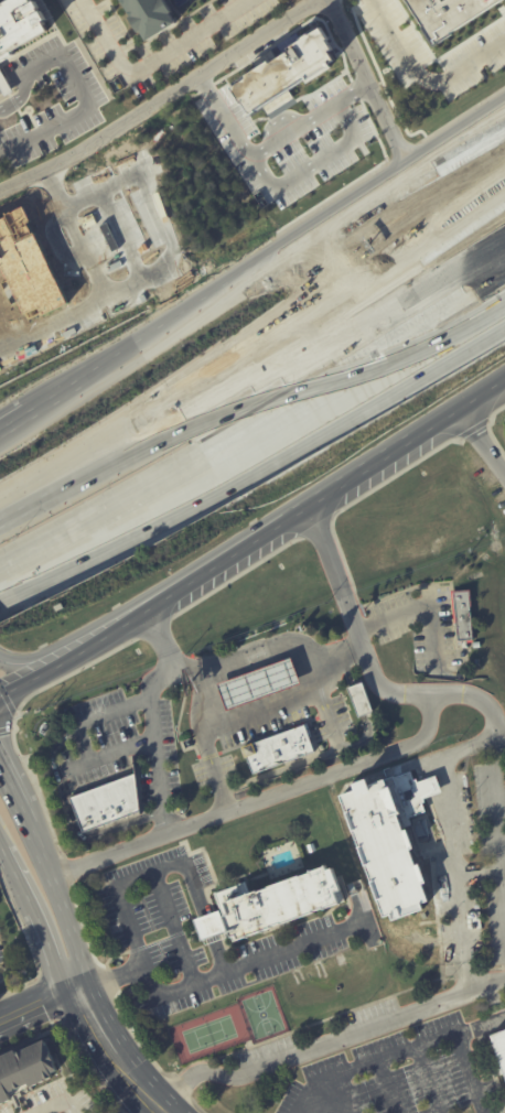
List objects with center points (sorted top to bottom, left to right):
building: (151, 17)
building: (458, 17)
building: (19, 26)
road: (153, 61)
building: (293, 73)
road: (15, 78)
road: (367, 82)
road: (419, 83)
building: (3, 84)
road: (78, 84)
road: (4, 85)
road: (0, 87)
road: (161, 100)
road: (221, 119)
road: (408, 160)
road: (136, 172)
road: (410, 177)
road: (284, 181)
road: (117, 225)
road: (441, 226)
road: (85, 250)
road: (72, 311)
road: (172, 317)
road: (307, 355)
road: (238, 363)
road: (313, 381)
road: (482, 395)
railway: (259, 408)
road: (314, 408)
road: (14, 418)
road: (482, 444)
road: (50, 487)
road: (271, 531)
road: (62, 533)
road: (416, 606)
building: (465, 614)
road: (270, 649)
road: (165, 653)
road: (41, 656)
building: (477, 661)
road: (42, 671)
building: (262, 682)
road: (383, 689)
building: (361, 701)
road: (257, 713)
road: (502, 739)
road: (80, 742)
building: (323, 747)
building: (277, 749)
road: (159, 763)
road: (215, 766)
road: (72, 770)
road: (7, 778)
road: (15, 798)
road: (257, 800)
building: (107, 804)
road: (69, 823)
road: (499, 831)
building: (386, 840)
road: (182, 863)
road: (455, 874)
road: (14, 880)
road: (52, 880)
building: (279, 904)
building: (209, 926)
road: (171, 929)
road: (296, 947)
road: (45, 957)
road: (78, 975)
road: (484, 983)
road: (37, 1007)
park: (261, 1015)
building: (136, 1028)
park: (208, 1034)
road: (442, 1037)
building: (499, 1049)
road: (307, 1050)
road: (111, 1057)
road: (358, 1067)
building: (28, 1071)
road: (388, 1087)
road: (54, 1102)
road: (313, 1105)
road: (147, 1107)

